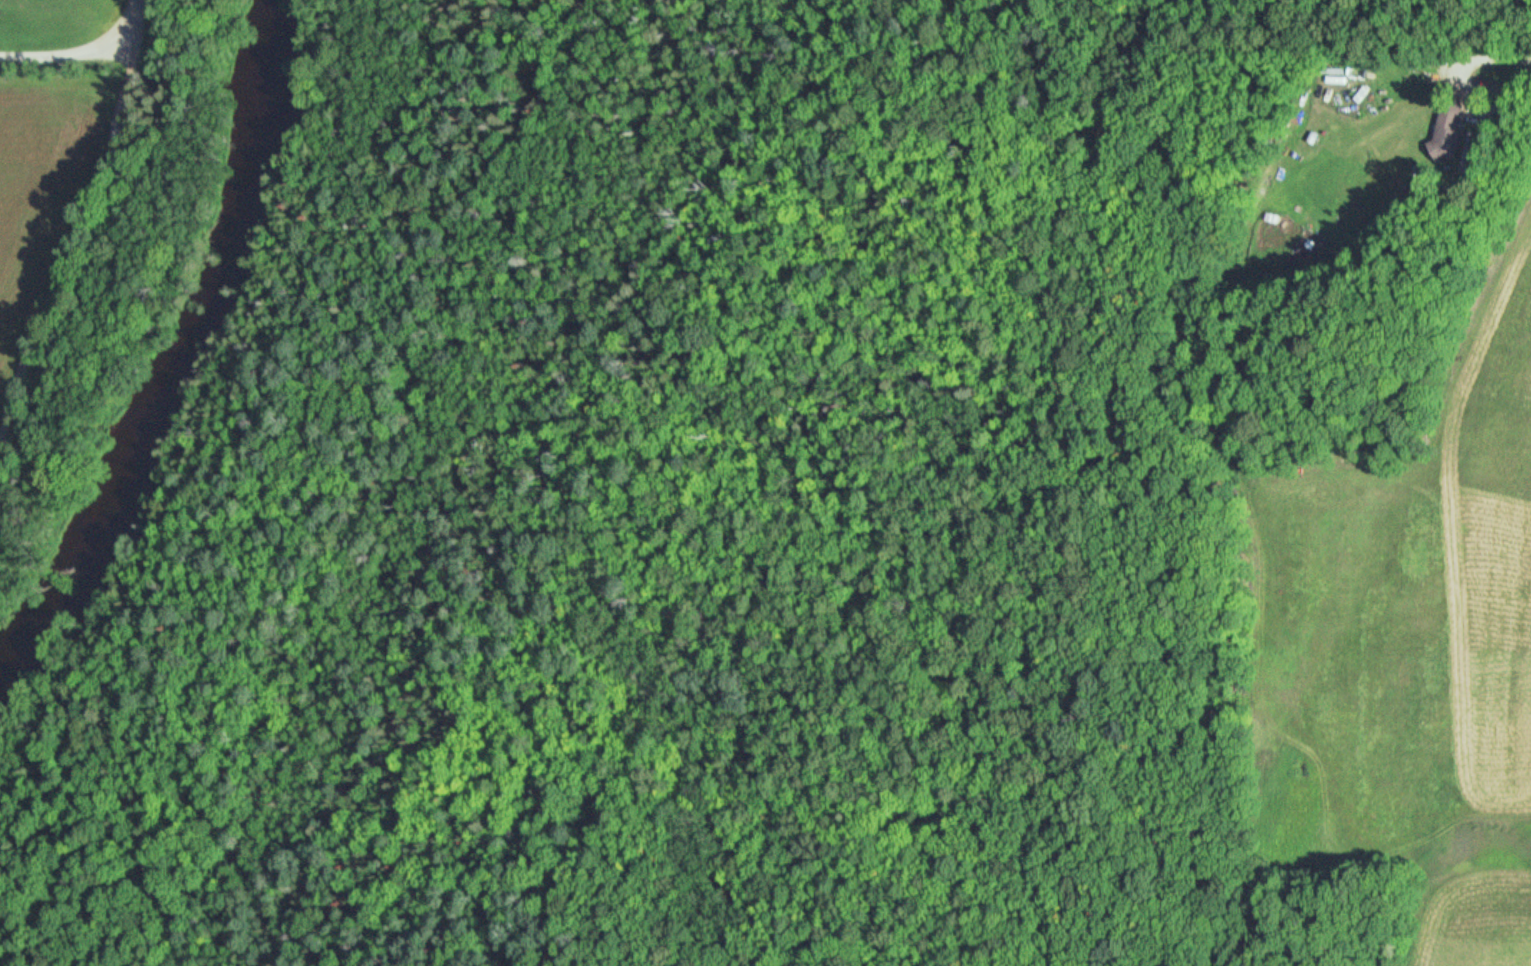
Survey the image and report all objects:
road: (91, 52)
road: (1512, 74)
building: (1450, 134)
river: (169, 354)

